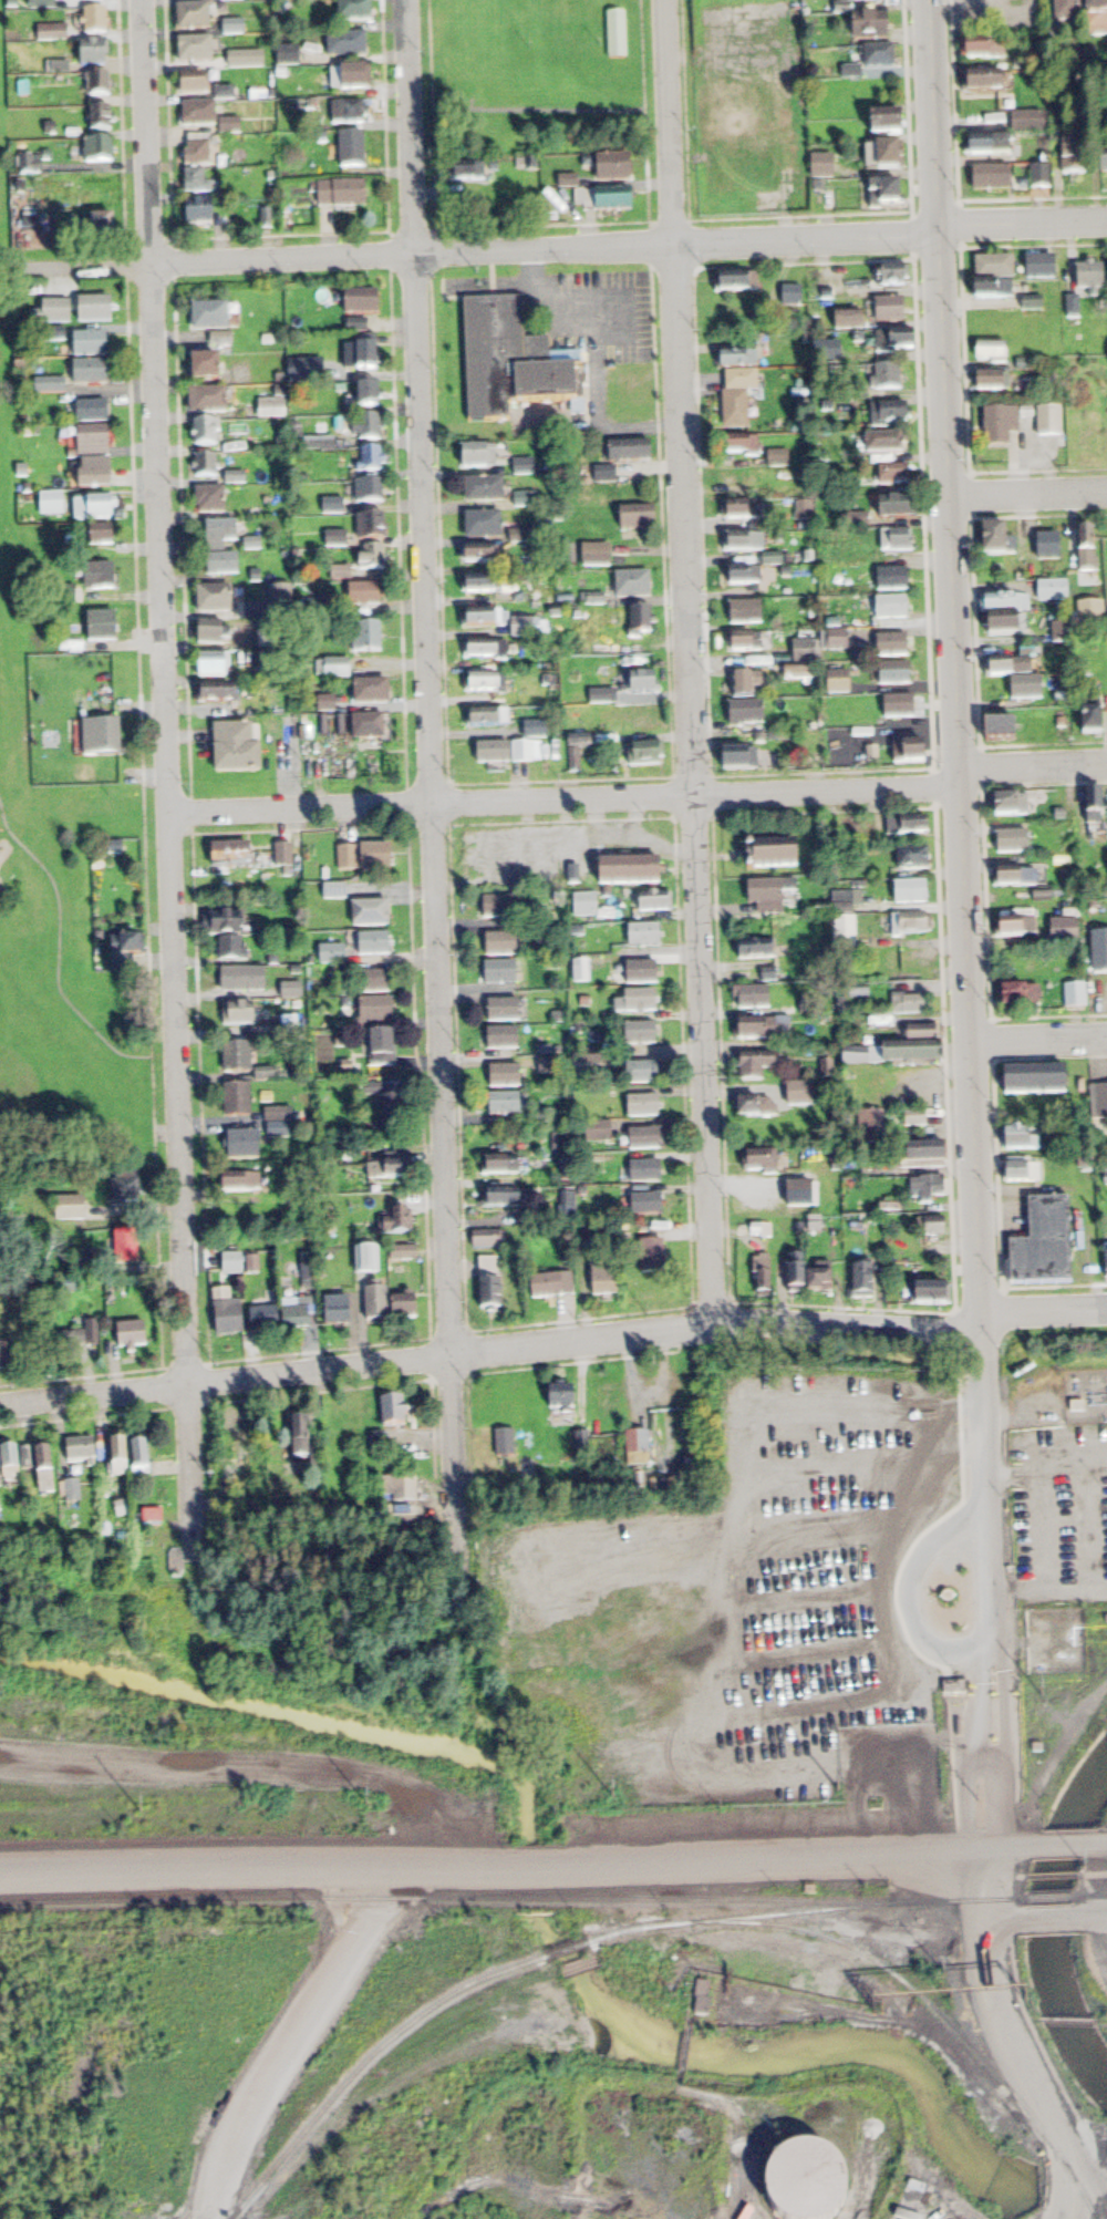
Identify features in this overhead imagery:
park: (529, 35)
park: (65, 958)
railway: (369, 2058)

